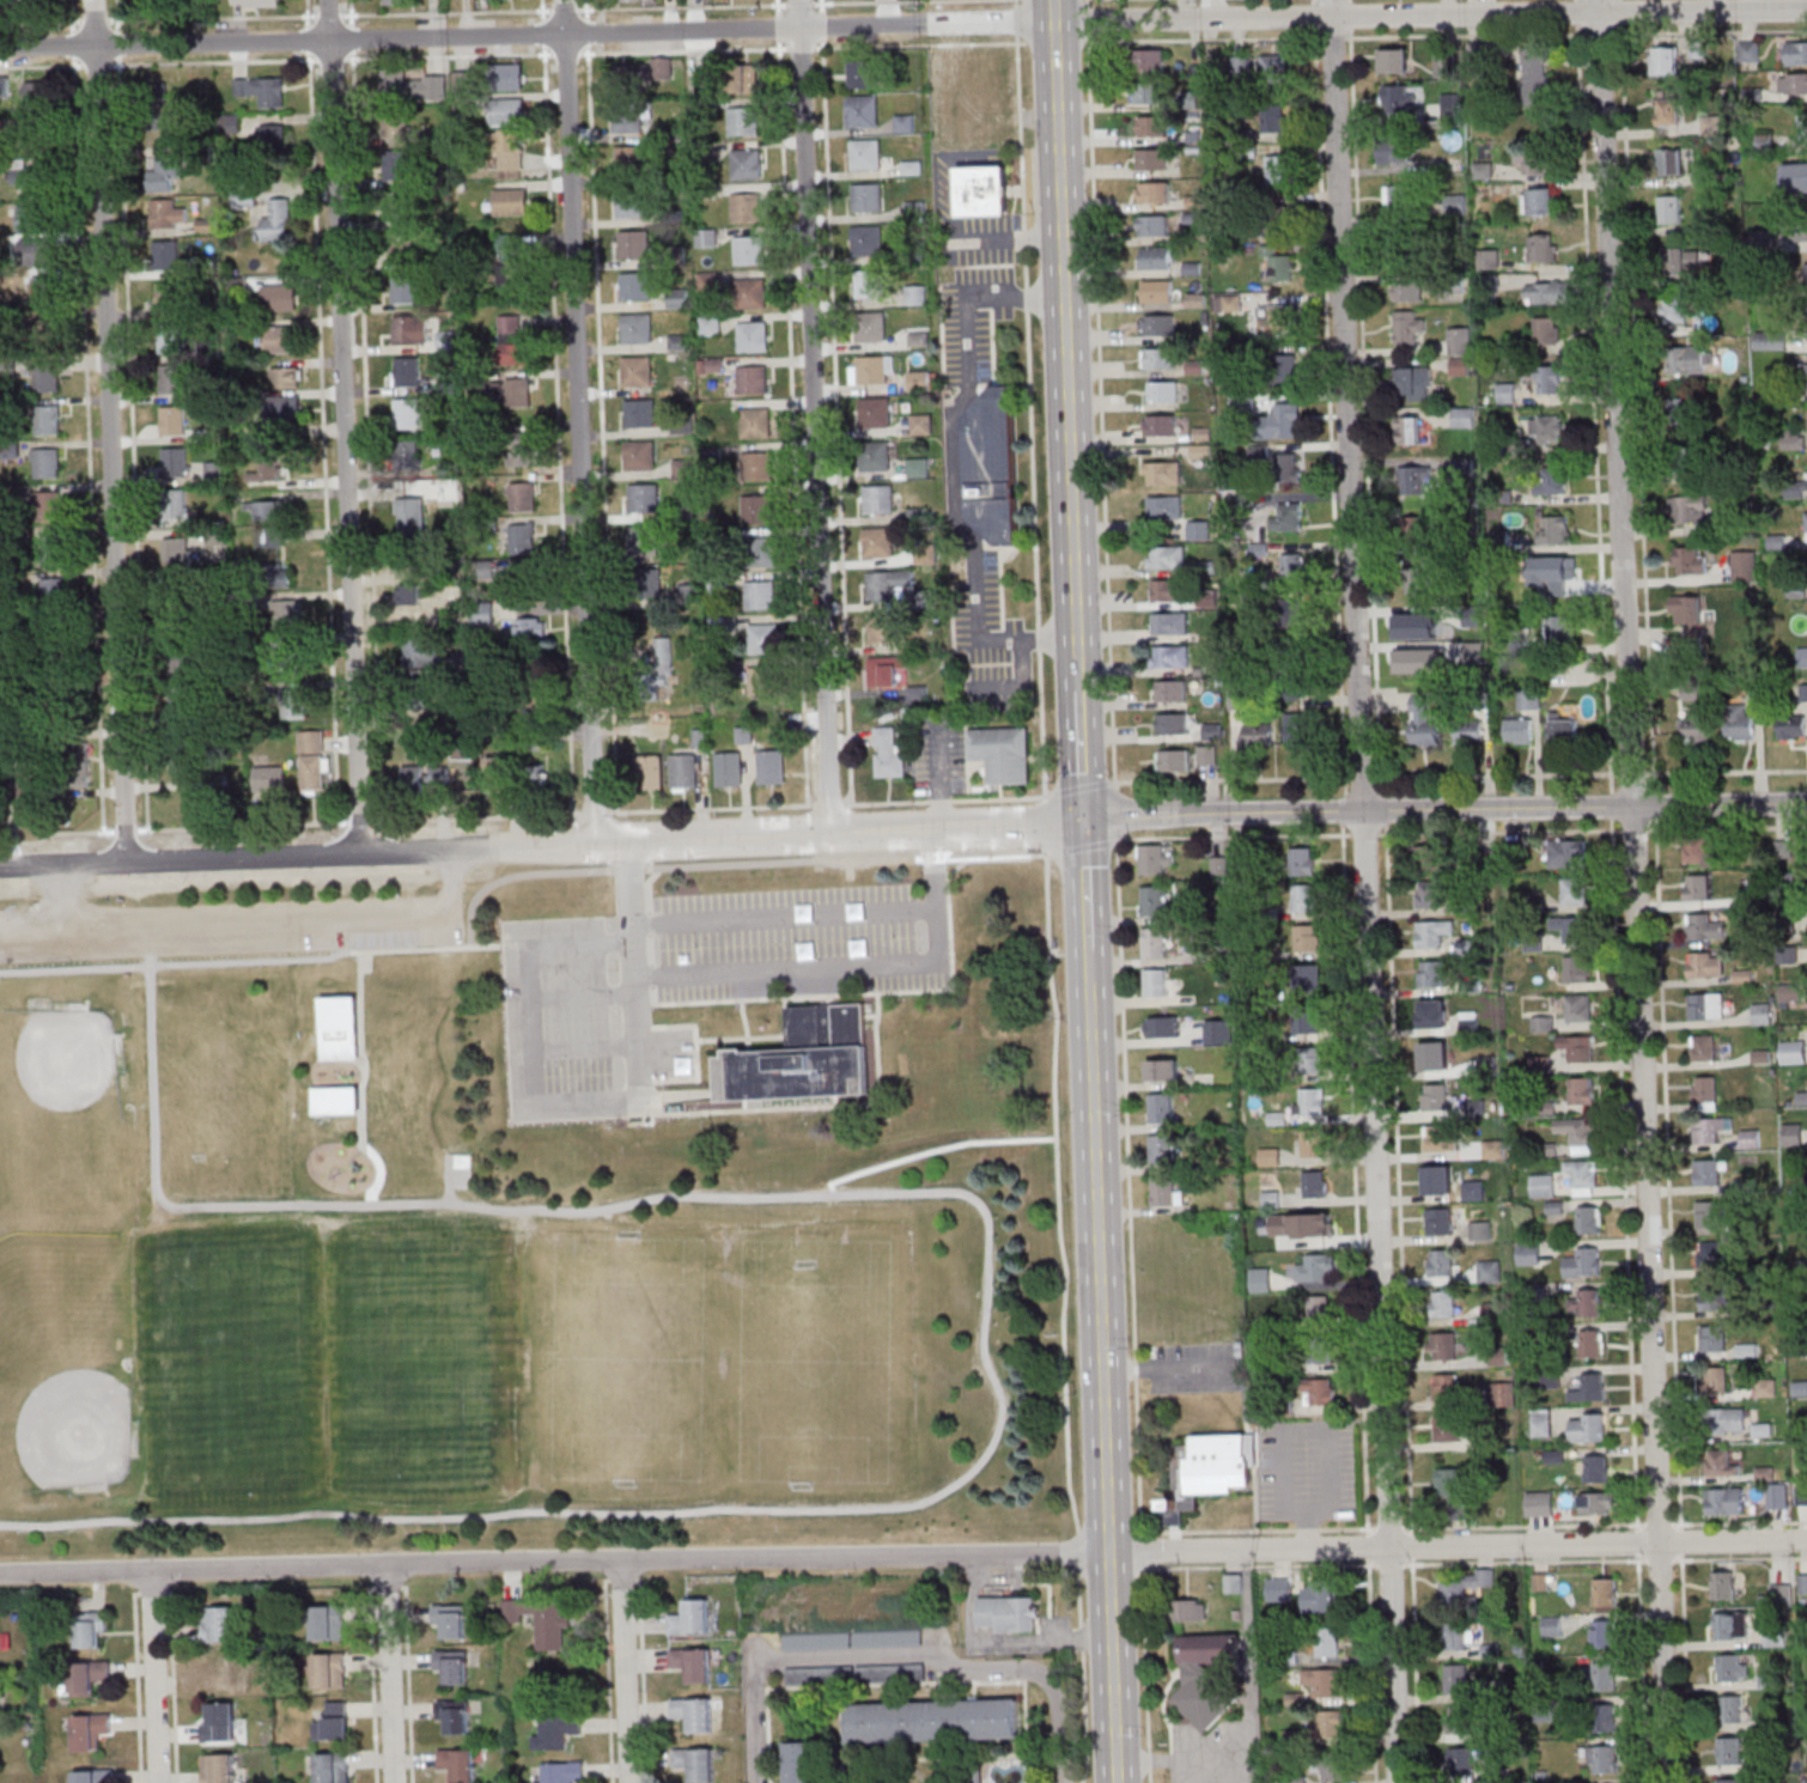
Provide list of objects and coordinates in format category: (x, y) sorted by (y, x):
building: (397, 1)
building: (255, 2)
building: (35, 5)
road: (1055, 11)
road: (71, 14)
road: (306, 14)
road: (1431, 14)
road: (212, 17)
road: (41, 22)
road: (528, 34)
building: (1750, 51)
building: (1795, 54)
building: (1150, 60)
building: (1394, 61)
building: (1667, 61)
building: (1444, 65)
road: (42, 66)
building: (1274, 67)
building: (649, 69)
building: (862, 73)
building: (510, 77)
building: (1537, 77)
building: (743, 78)
building: (1793, 84)
building: (415, 85)
building: (262, 90)
building: (1145, 92)
building: (32, 95)
building: (981, 97)
building: (1399, 98)
building: (157, 105)
building: (862, 110)
building: (506, 111)
building: (1667, 112)
building: (1274, 117)
building: (627, 120)
building: (742, 121)
building: (231, 122)
building: (395, 126)
building: (1152, 126)
building: (1711, 126)
building: (1803, 127)
building: (272, 138)
building: (1394, 150)
building: (507, 151)
building: (865, 153)
building: (631, 159)
building: (1151, 159)
building: (1533, 162)
building: (1669, 162)
building: (747, 163)
building: (395, 164)
building: (1280, 169)
building: (29, 171)
building: (164, 172)
building: (1803, 177)
building: (984, 190)
building: (1152, 191)
building: (868, 196)
building: (1397, 196)
building: (243, 197)
building: (510, 201)
building: (1460, 201)
building: (1539, 201)
building: (631, 205)
building: (400, 206)
building: (746, 207)
building: (1669, 209)
building: (168, 214)
building: (1279, 215)
building: (31, 218)
building: (276, 220)
building: (1154, 225)
building: (1799, 229)
building: (706, 238)
building: (866, 239)
building: (633, 244)
building: (1407, 244)
building: (401, 247)
building: (1543, 248)
building: (35, 250)
building: (749, 250)
building: (166, 255)
building: (1155, 257)
building: (511, 258)
building: (1680, 261)
building: (1282, 266)
building: (707, 281)
building: (1802, 281)
building: (866, 284)
building: (635, 286)
building: (404, 288)
building: (42, 291)
building: (1157, 291)
building: (1407, 291)
building: (750, 292)
building: (1546, 292)
building: (917, 294)
building: (170, 297)
building: (279, 297)
building: (1674, 310)
building: (1273, 321)
building: (1158, 324)
building: (710, 325)
building: (870, 327)
building: (1409, 327)
building: (637, 328)
building: (409, 329)
building: (1546, 329)
building: (48, 330)
building: (1801, 331)
building: (171, 336)
building: (753, 336)
road: (1067, 337)
building: (279, 339)
building: (444, 340)
building: (1770, 340)
building: (512, 341)
building: (1460, 341)
building: (1158, 358)
building: (1691, 359)
building: (876, 369)
building: (1283, 369)
building: (407, 371)
building: (637, 371)
building: (285, 376)
building: (45, 377)
building: (753, 379)
building: (1549, 379)
building: (175, 381)
building: (919, 381)
building: (1412, 384)
building: (512, 390)
building: (1163, 391)
building: (1505, 394)
road: (1614, 403)
building: (288, 407)
building: (875, 412)
building: (408, 413)
building: (639, 413)
building: (1685, 413)
road: (815, 416)
building: (1286, 418)
building: (47, 419)
building: (172, 420)
road: (580, 421)
building: (756, 422)
building: (921, 424)
building: (1160, 425)
road: (345, 426)
building: (1546, 430)
road: (110, 431)
building: (1409, 431)
building: (1793, 440)
building: (258, 444)
building: (519, 449)
building: (639, 455)
building: (875, 456)
building: (406, 457)
building: (44, 462)
building: (175, 462)
road: (1032, 462)
building: (756, 465)
building: (993, 465)
building: (918, 467)
building: (1286, 468)
building: (214, 469)
road: (959, 470)
building: (266, 471)
building: (1163, 473)
building: (1414, 480)
building: (1550, 480)
building: (1795, 489)
building: (521, 497)
building: (644, 498)
building: (877, 499)
building: (47, 505)
building: (178, 505)
building: (1164, 507)
building: (758, 509)
building: (1690, 509)
building: (264, 510)
building: (412, 517)
building: (1288, 518)
building: (1806, 524)
building: (1199, 529)
building: (1554, 529)
building: (1414, 533)
building: (215, 536)
building: (269, 536)
building: (522, 537)
building: (643, 540)
building: (877, 542)
building: (50, 549)
building: (176, 550)
building: (763, 550)
building: (1167, 556)
building: (1690, 560)
building: (1294, 566)
building: (1745, 566)
building: (485, 568)
building: (1558, 577)
building: (521, 579)
building: (1420, 579)
building: (646, 582)
building: (888, 584)
building: (51, 586)
building: (685, 590)
building: (1166, 590)
building: (410, 594)
building: (760, 595)
building: (1294, 611)
building: (482, 613)
building: (1687, 614)
building: (287, 615)
building: (1170, 622)
building: (531, 628)
building: (883, 628)
building: (1559, 629)
building: (1426, 633)
building: (178, 638)
building: (762, 638)
building: (420, 651)
building: (1170, 656)
building: (1803, 657)
building: (662, 662)
building: (293, 665)
building: (887, 671)
road: (1077, 671)
building: (760, 680)
building: (1292, 688)
building: (1690, 688)
building: (1172, 690)
building: (180, 699)
building: (416, 700)
building: (1529, 700)
building: (293, 702)
building: (1174, 723)
building: (1739, 723)
building: (1698, 725)
building: (1791, 726)
building: (1296, 728)
building: (1468, 730)
building: (1517, 730)
building: (1564, 731)
building: (1424, 732)
building: (1257, 734)
road: (1079, 751)
building: (1003, 753)
building: (888, 754)
building: (75, 759)
building: (311, 760)
building: (1173, 760)
building: (190, 762)
building: (772, 766)
building: (729, 768)
building: (683, 771)
road: (1726, 771)
building: (649, 772)
road: (1632, 773)
building: (499, 774)
road: (1497, 775)
building: (440, 777)
building: (534, 778)
road: (1327, 778)
road: (1364, 778)
building: (270, 779)
building: (408, 779)
road: (1204, 779)
road: (1078, 787)
road: (948, 799)
road: (1493, 810)
road: (1130, 814)
road: (1045, 816)
traffic signals: (1082, 816)
road: (1727, 827)
road: (1633, 828)
road: (956, 829)
road: (1503, 832)
road: (1369, 834)
road: (1235, 836)
road: (1089, 845)
building: (1782, 850)
road: (415, 851)
building: (1568, 853)
building: (1700, 853)
road: (1005, 856)
road: (933, 857)
building: (1431, 857)
building: (1155, 859)
road: (783, 860)
building: (1302, 860)
road: (627, 869)
road: (515, 875)
road: (1084, 883)
building: (1697, 888)
road: (1118, 890)
road: (1368, 890)
building: (1575, 890)
building: (1429, 893)
building: (1304, 897)
road: (60, 899)
building: (1152, 900)
road: (650, 913)
road: (786, 920)
road: (256, 926)
building: (1571, 927)
building: (1704, 927)
parking lot: (230, 929)
building: (1432, 932)
building: (1307, 937)
building: (1154, 942)
road: (427, 947)
road: (1088, 964)
building: (1705, 964)
road: (856, 966)
building: (1576, 969)
building: (1432, 974)
road: (651, 975)
building: (1309, 975)
building: (1156, 981)
parking lot: (698, 984)
road: (875, 993)
road: (653, 994)
road: (583, 998)
building: (1706, 1005)
building: (1578, 1008)
building: (1432, 1014)
building: (1760, 1014)
building: (1309, 1020)
building: (1468, 1021)
building: (1543, 1023)
building: (1162, 1028)
building: (341, 1030)
building: (1201, 1030)
road: (742, 1037)
building: (1577, 1047)
building: (1703, 1047)
road: (696, 1051)
road: (364, 1052)
road: (586, 1052)
building: (1793, 1052)
building: (1436, 1055)
building: (1309, 1060)
building: (805, 1061)
road: (454, 1069)
building: (1163, 1070)
building: (1581, 1091)
building: (1704, 1093)
building: (1435, 1096)
building: (1312, 1101)
park: (223, 1102)
building: (337, 1103)
road: (584, 1108)
building: (1161, 1108)
park: (62, 1116)
building: (1709, 1130)
building: (1578, 1133)
building: (1793, 1134)
building: (1442, 1138)
building: (1748, 1138)
building: (1312, 1143)
building: (1162, 1149)
building: (1270, 1156)
building: (1706, 1172)
building: (1582, 1176)
building: (1440, 1181)
building: (1315, 1183)
building: (1541, 1185)
building: (1166, 1192)
building: (1712, 1213)
building: (1588, 1219)
building: (1440, 1221)
building: (1316, 1225)
building: (1528, 1253)
building: (1710, 1254)
park: (477, 1258)
building: (1583, 1262)
building: (1441, 1264)
building: (1315, 1268)
building: (1489, 1271)
road: (1650, 1295)
building: (1716, 1297)
building: (1588, 1302)
building: (1442, 1306)
road: (1063, 1309)
building: (1318, 1309)
building: (1490, 1312)
building: (1712, 1338)
building: (1590, 1343)
building: (1442, 1346)
building: (1319, 1352)
park: (66, 1362)
park: (826, 1363)
park: (626, 1364)
park: (431, 1368)
park: (236, 1369)
road: (1161, 1369)
building: (1717, 1380)
road: (1103, 1381)
building: (1444, 1387)
building: (1764, 1387)
building: (1588, 1388)
building: (1319, 1391)
building: (1729, 1420)
building: (1543, 1422)
building: (1447, 1428)
building: (1590, 1428)
building: (1720, 1463)
building: (1594, 1468)
building: (1212, 1473)
building: (1448, 1481)
building: (1777, 1496)
building: (1724, 1501)
building: (1539, 1503)
building: (1596, 1503)
road: (1473, 1526)
road: (1458, 1545)
road: (1471, 1562)
road: (555, 1564)
road: (972, 1566)
road: (1004, 1577)
building: (1803, 1583)
building: (1723, 1586)
building: (1462, 1587)
building: (1605, 1592)
building: (1325, 1600)
road: (972, 1602)
building: (1190, 1609)
building: (1009, 1613)
building: (690, 1617)
building: (451, 1619)
building: (541, 1620)
building: (329, 1623)
building: (219, 1624)
building: (1551, 1626)
building: (1730, 1626)
building: (91, 1627)
building: (1605, 1633)
road: (1040, 1636)
building: (1775, 1637)
building: (888, 1638)
building: (1458, 1638)
building: (816, 1641)
building: (1327, 1643)
road: (898, 1653)
building: (692, 1663)
building: (452, 1666)
building: (1732, 1668)
building: (329, 1671)
building: (890, 1672)
building: (218, 1673)
road: (629, 1673)
road: (391, 1674)
building: (91, 1675)
building: (820, 1675)
building: (1604, 1675)
road: (156, 1678)
building: (1207, 1679)
building: (1455, 1679)
building: (1324, 1682)
building: (1732, 1709)
building: (694, 1714)
building: (455, 1715)
road: (1252, 1716)
building: (933, 1718)
building: (1604, 1718)
building: (1461, 1720)
building: (333, 1722)
building: (220, 1723)
building: (1327, 1723)
building: (91, 1730)
building: (556, 1732)
building: (1729, 1751)
building: (1602, 1759)
building: (1461, 1760)
building: (805, 1761)
building: (695, 1763)
building: (457, 1764)
building: (1332, 1766)
building: (333, 1767)
building: (219, 1769)
road: (1240, 1770)
road: (1194, 1771)
building: (562, 1772)
building: (92, 1776)
building: (1735, 1779)

